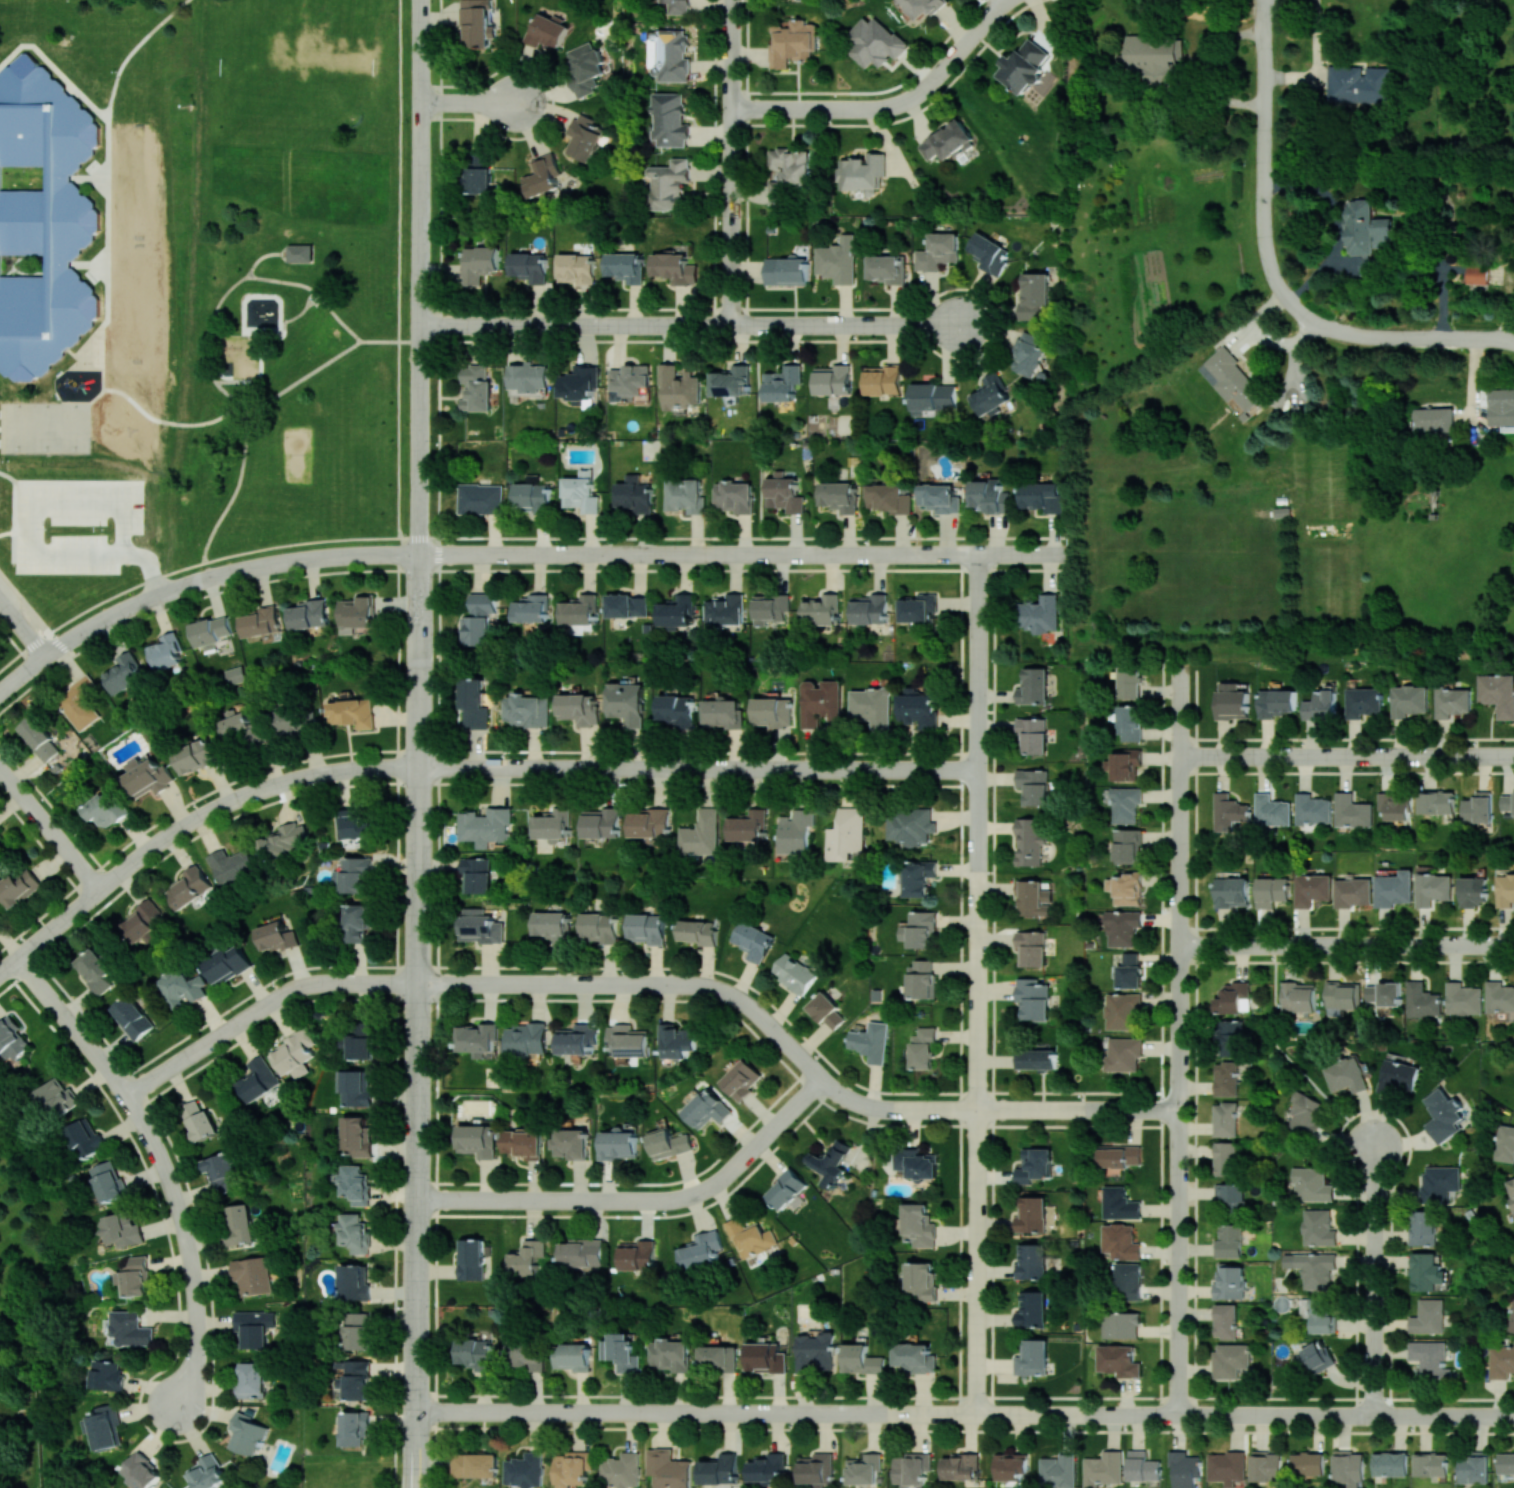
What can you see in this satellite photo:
road: (1005, 1)
building: (679, 6)
building: (923, 6)
building: (478, 22)
building: (546, 30)
building: (874, 42)
building: (792, 43)
road: (133, 51)
building: (669, 55)
building: (1153, 57)
building: (1, 60)
park: (302, 66)
building: (1024, 66)
building: (585, 68)
road: (931, 82)
building: (1359, 83)
road: (467, 102)
road: (779, 108)
building: (670, 119)
building: (584, 136)
building: (947, 142)
road: (733, 162)
building: (478, 171)
building: (861, 172)
building: (788, 173)
building: (543, 176)
building: (667, 184)
building: (44, 219)
building: (1365, 228)
building: (937, 251)
road: (103, 253)
building: (305, 253)
building: (989, 253)
road: (262, 256)
building: (837, 260)
building: (479, 263)
building: (529, 266)
building: (625, 266)
building: (674, 266)
road: (398, 267)
road: (439, 268)
building: (576, 268)
building: (886, 268)
building: (787, 270)
road: (1271, 270)
park: (137, 271)
building: (1477, 274)
road: (420, 277)
park: (304, 281)
road: (285, 282)
building: (1034, 295)
road: (301, 310)
road: (337, 318)
road: (576, 324)
road: (848, 325)
road: (209, 336)
road: (390, 340)
building: (1029, 353)
road: (302, 377)
building: (528, 377)
building: (833, 379)
building: (883, 379)
building: (630, 380)
building: (1232, 380)
building: (731, 381)
building: (783, 383)
building: (580, 384)
building: (679, 386)
building: (476, 388)
road: (97, 395)
building: (990, 395)
building: (933, 398)
building: (1501, 415)
building: (1432, 419)
road: (169, 422)
park: (45, 427)
park: (297, 455)
road: (236, 484)
building: (580, 492)
building: (784, 493)
building: (634, 495)
building: (684, 495)
building: (990, 495)
building: (734, 496)
building: (840, 496)
building: (1042, 496)
building: (532, 497)
building: (888, 497)
building: (481, 498)
building: (940, 498)
road: (33, 501)
road: (13, 511)
parking lot: (75, 523)
road: (6, 531)
road: (416, 535)
road: (750, 536)
road: (291, 544)
road: (437, 553)
road: (744, 553)
road: (302, 559)
road: (149, 565)
road: (514, 569)
road: (116, 593)
road: (156, 594)
road: (24, 602)
building: (626, 605)
building: (770, 607)
building: (918, 607)
building: (531, 608)
building: (725, 609)
building: (822, 609)
building: (869, 609)
building: (580, 610)
building: (357, 611)
building: (677, 611)
building: (1038, 613)
building: (308, 614)
building: (478, 619)
road: (97, 622)
building: (261, 622)
road: (22, 626)
building: (210, 631)
road: (33, 642)
road: (60, 644)
road: (58, 646)
building: (165, 651)
road: (10, 661)
road: (22, 672)
building: (124, 673)
building: (235, 674)
building: (1129, 682)
building: (1034, 686)
building: (1497, 693)
building: (1408, 700)
building: (1231, 701)
building: (1363, 701)
building: (1451, 701)
building: (80, 702)
building: (627, 702)
building: (821, 702)
road: (979, 702)
building: (1276, 702)
building: (473, 703)
building: (1320, 705)
building: (871, 706)
building: (579, 708)
building: (918, 708)
building: (677, 709)
building: (526, 710)
building: (773, 711)
building: (352, 712)
building: (722, 713)
building: (288, 722)
building: (1130, 722)
building: (243, 729)
building: (1033, 734)
building: (39, 738)
road: (1385, 755)
building: (197, 756)
road: (1216, 756)
road: (1254, 756)
building: (1125, 764)
road: (512, 768)
road: (541, 768)
road: (767, 768)
building: (147, 776)
building: (1033, 786)
road: (232, 800)
building: (1507, 801)
building: (1436, 802)
road: (1180, 803)
building: (1125, 804)
building: (1395, 806)
building: (1479, 807)
building: (107, 809)
building: (1312, 809)
building: (1271, 810)
building: (1352, 810)
building: (1229, 811)
building: (601, 822)
building: (650, 824)
building: (553, 825)
building: (749, 825)
building: (355, 826)
building: (486, 826)
building: (910, 826)
road: (49, 828)
building: (796, 831)
building: (701, 833)
building: (846, 834)
building: (1030, 840)
building: (285, 841)
building: (1127, 845)
road: (979, 861)
building: (232, 865)
building: (353, 874)
building: (476, 875)
building: (919, 877)
building: (19, 886)
building: (190, 887)
building: (1126, 888)
building: (1393, 888)
building: (1432, 888)
building: (1311, 889)
building: (1505, 890)
building: (1271, 891)
building: (1473, 891)
building: (1231, 892)
building: (1352, 892)
building: (1033, 898)
building: (143, 921)
building: (357, 923)
building: (553, 925)
building: (479, 926)
building: (599, 927)
building: (1123, 927)
building: (647, 928)
building: (920, 929)
building: (698, 931)
building: (276, 936)
building: (753, 941)
road: (1216, 945)
road: (1262, 945)
road: (1393, 945)
building: (1031, 948)
building: (227, 964)
road: (9, 965)
building: (95, 970)
building: (1130, 971)
building: (794, 973)
building: (922, 978)
road: (516, 984)
road: (692, 984)
building: (180, 987)
road: (301, 988)
building: (1384, 993)
building: (1298, 996)
building: (1342, 996)
building: (1499, 996)
building: (1233, 997)
building: (1033, 998)
building: (1463, 998)
building: (1422, 1000)
building: (827, 1010)
road: (395, 1011)
building: (1123, 1011)
building: (132, 1017)
road: (417, 1021)
road: (436, 1029)
building: (1230, 1037)
building: (11, 1039)
building: (360, 1039)
building: (479, 1039)
building: (525, 1039)
building: (577, 1039)
building: (676, 1040)
building: (871, 1041)
building: (627, 1042)
building: (923, 1047)
building: (294, 1053)
building: (1124, 1054)
building: (1035, 1058)
building: (1346, 1075)
building: (1397, 1076)
building: (1227, 1077)
building: (258, 1079)
building: (741, 1079)
building: (355, 1086)
building: (55, 1098)
road: (848, 1098)
building: (707, 1108)
road: (885, 1108)
road: (1036, 1109)
building: (1305, 1114)
building: (1443, 1115)
building: (1226, 1119)
building: (198, 1120)
road: (776, 1125)
building: (356, 1135)
building: (84, 1138)
building: (478, 1140)
road: (978, 1142)
building: (523, 1143)
building: (572, 1143)
building: (618, 1143)
building: (669, 1143)
building: (1505, 1143)
building: (1119, 1156)
building: (1226, 1158)
building: (831, 1162)
road: (163, 1163)
building: (915, 1163)
building: (1034, 1165)
building: (221, 1172)
road: (1374, 1174)
road: (1180, 1180)
building: (109, 1181)
building: (1440, 1183)
building: (356, 1184)
building: (1312, 1184)
building: (786, 1187)
building: (1511, 1189)
building: (1230, 1195)
road: (673, 1199)
road: (506, 1200)
road: (602, 1200)
building: (1119, 1203)
building: (1032, 1214)
building: (241, 1224)
building: (918, 1225)
building: (1318, 1227)
building: (1423, 1227)
building: (122, 1229)
building: (355, 1232)
building: (750, 1237)
building: (1230, 1240)
building: (1121, 1241)
building: (700, 1250)
building: (581, 1252)
building: (636, 1255)
building: (527, 1257)
building: (472, 1259)
building: (1031, 1261)
building: (1314, 1268)
building: (1426, 1271)
building: (252, 1275)
building: (134, 1276)
building: (921, 1280)
building: (1128, 1280)
building: (356, 1282)
building: (1230, 1282)
building: (1032, 1309)
road: (1373, 1310)
building: (1318, 1314)
building: (1427, 1316)
park: (35, 1318)
building: (1511, 1318)
building: (1226, 1320)
building: (1122, 1325)
building: (130, 1328)
building: (254, 1328)
building: (359, 1330)
building: (621, 1351)
building: (815, 1351)
building: (475, 1354)
building: (524, 1354)
building: (671, 1354)
building: (573, 1356)
building: (1318, 1356)
building: (766, 1357)
building: (915, 1357)
building: (1032, 1357)
building: (719, 1358)
building: (861, 1359)
building: (1230, 1359)
building: (1429, 1359)
building: (1118, 1360)
building: (1501, 1361)
building: (108, 1374)
building: (251, 1379)
building: (355, 1380)
road: (843, 1412)
road: (1278, 1415)
road: (1330, 1415)
road: (1422, 1415)
road: (1492, 1416)
building: (105, 1427)
building: (355, 1427)
building: (246, 1434)
building: (1308, 1463)
building: (1390, 1463)
building: (1506, 1463)
building: (475, 1464)
building: (1431, 1464)
building: (960, 1466)
building: (1009, 1466)
building: (1142, 1466)
building: (1267, 1466)
building: (768, 1467)
building: (1226, 1467)
building: (1349, 1467)
building: (572, 1468)
building: (863, 1468)
building: (911, 1468)
building: (1103, 1468)
building: (1184, 1468)
building: (1475, 1468)
building: (669, 1469)
building: (720, 1469)
building: (816, 1469)
building: (525, 1470)
building: (622, 1470)
building: (1058, 1470)
building: (142, 1471)
building: (207, 1472)

